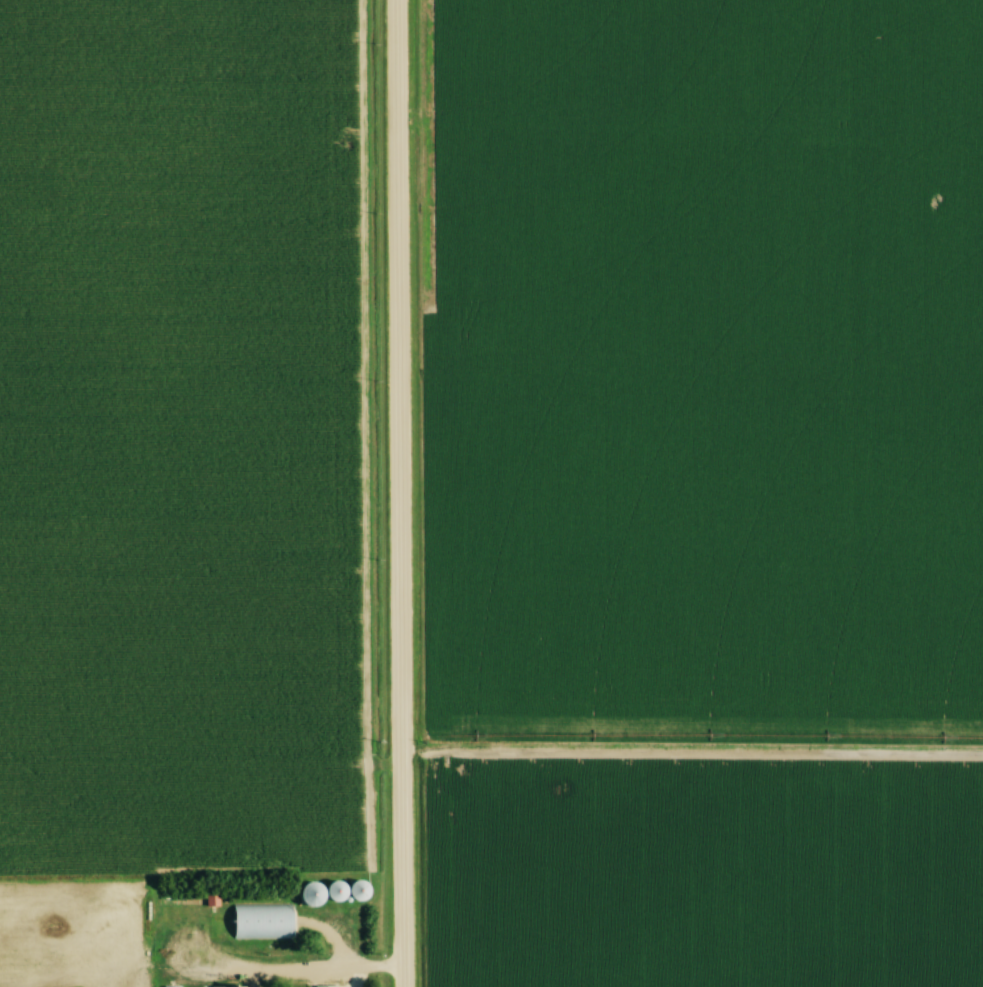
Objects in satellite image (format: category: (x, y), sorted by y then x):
crop: (178, 433)
road: (391, 493)
crop: (696, 874)
building: (351, 890)
building: (317, 894)
building: (214, 899)
building: (251, 929)
road: (300, 969)
building: (329, 985)
building: (173, 986)
building: (230, 986)

